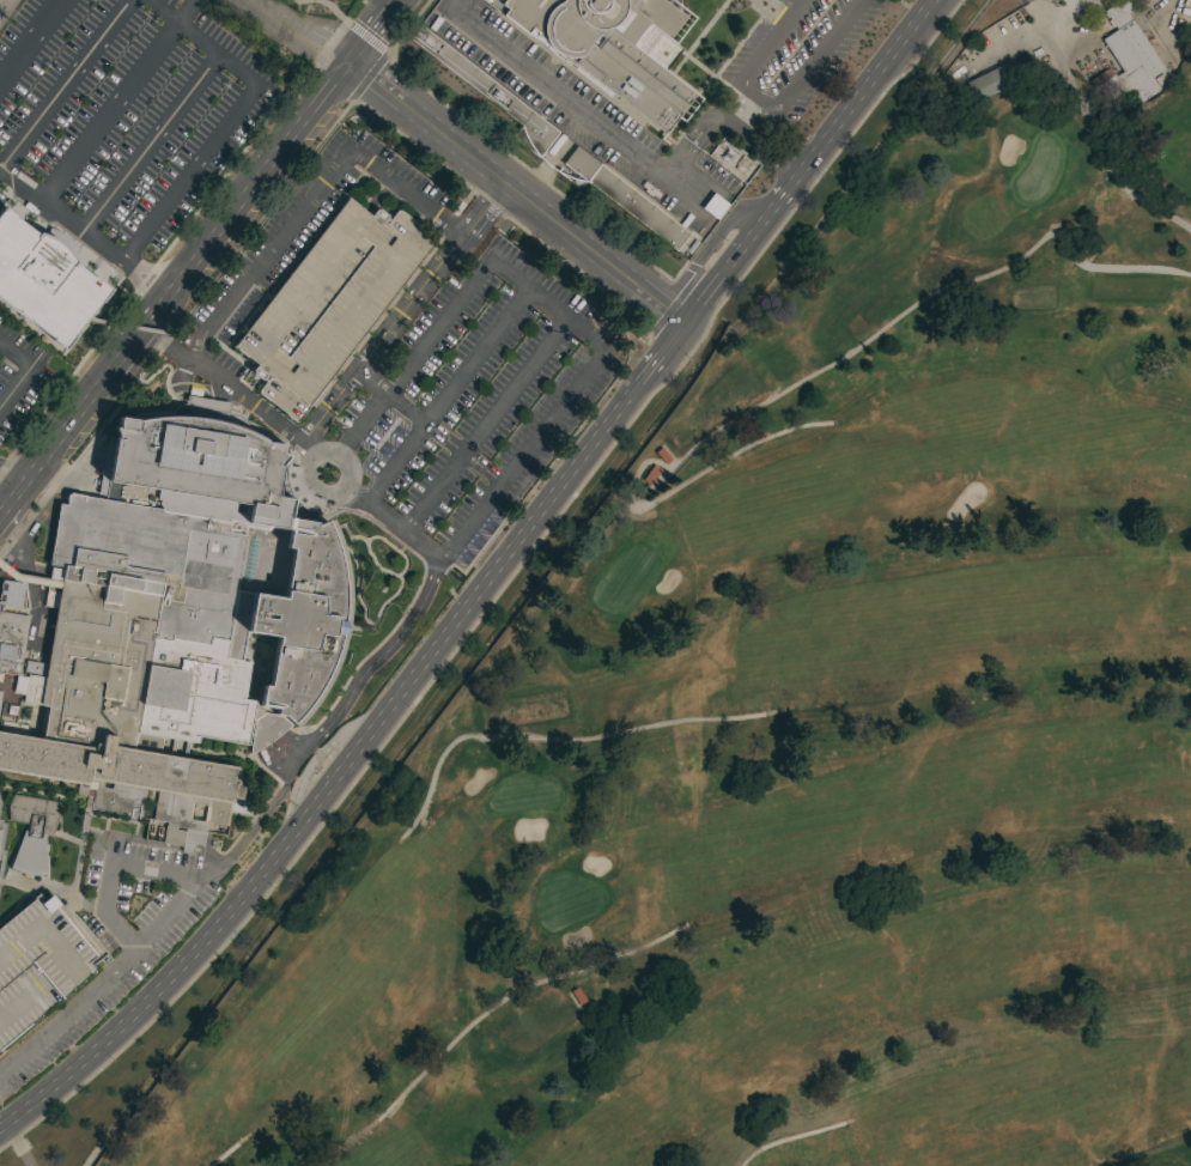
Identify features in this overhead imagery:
building: (30, 6)
road: (160, 10)
road: (1055, 13)
road: (294, 35)
road: (26, 37)
building: (609, 47)
building: (1126, 59)
building: (991, 80)
road: (65, 83)
building: (488, 92)
road: (113, 98)
road: (852, 101)
road: (770, 103)
road: (608, 127)
road: (225, 128)
parking lot: (128, 130)
road: (152, 142)
park: (1177, 144)
park: (1178, 152)
building: (733, 163)
road: (0, 166)
road: (1108, 170)
road: (512, 194)
building: (625, 199)
road: (372, 201)
road: (291, 226)
road: (84, 230)
road: (372, 239)
road: (709, 245)
road: (196, 259)
road: (729, 262)
building: (44, 281)
road: (305, 289)
building: (329, 302)
road: (548, 304)
road: (401, 315)
road: (341, 316)
road: (437, 328)
road: (169, 344)
road: (660, 353)
road: (274, 365)
road: (26, 371)
parking lot: (22, 374)
road: (809, 377)
road: (193, 389)
road: (444, 397)
road: (390, 399)
road: (360, 424)
road: (484, 426)
road: (279, 427)
road: (523, 456)
road: (31, 458)
building: (651, 474)
road: (351, 475)
road: (390, 528)
road: (509, 547)
building: (26, 577)
road: (30, 578)
building: (11, 595)
building: (175, 621)
building: (12, 640)
road: (378, 657)
road: (531, 736)
park: (788, 739)
road: (316, 757)
road: (336, 771)
building: (31, 832)
road: (111, 868)
road: (165, 918)
building: (37, 964)
road: (156, 989)
road: (510, 994)
road: (790, 1136)
road: (220, 1155)

